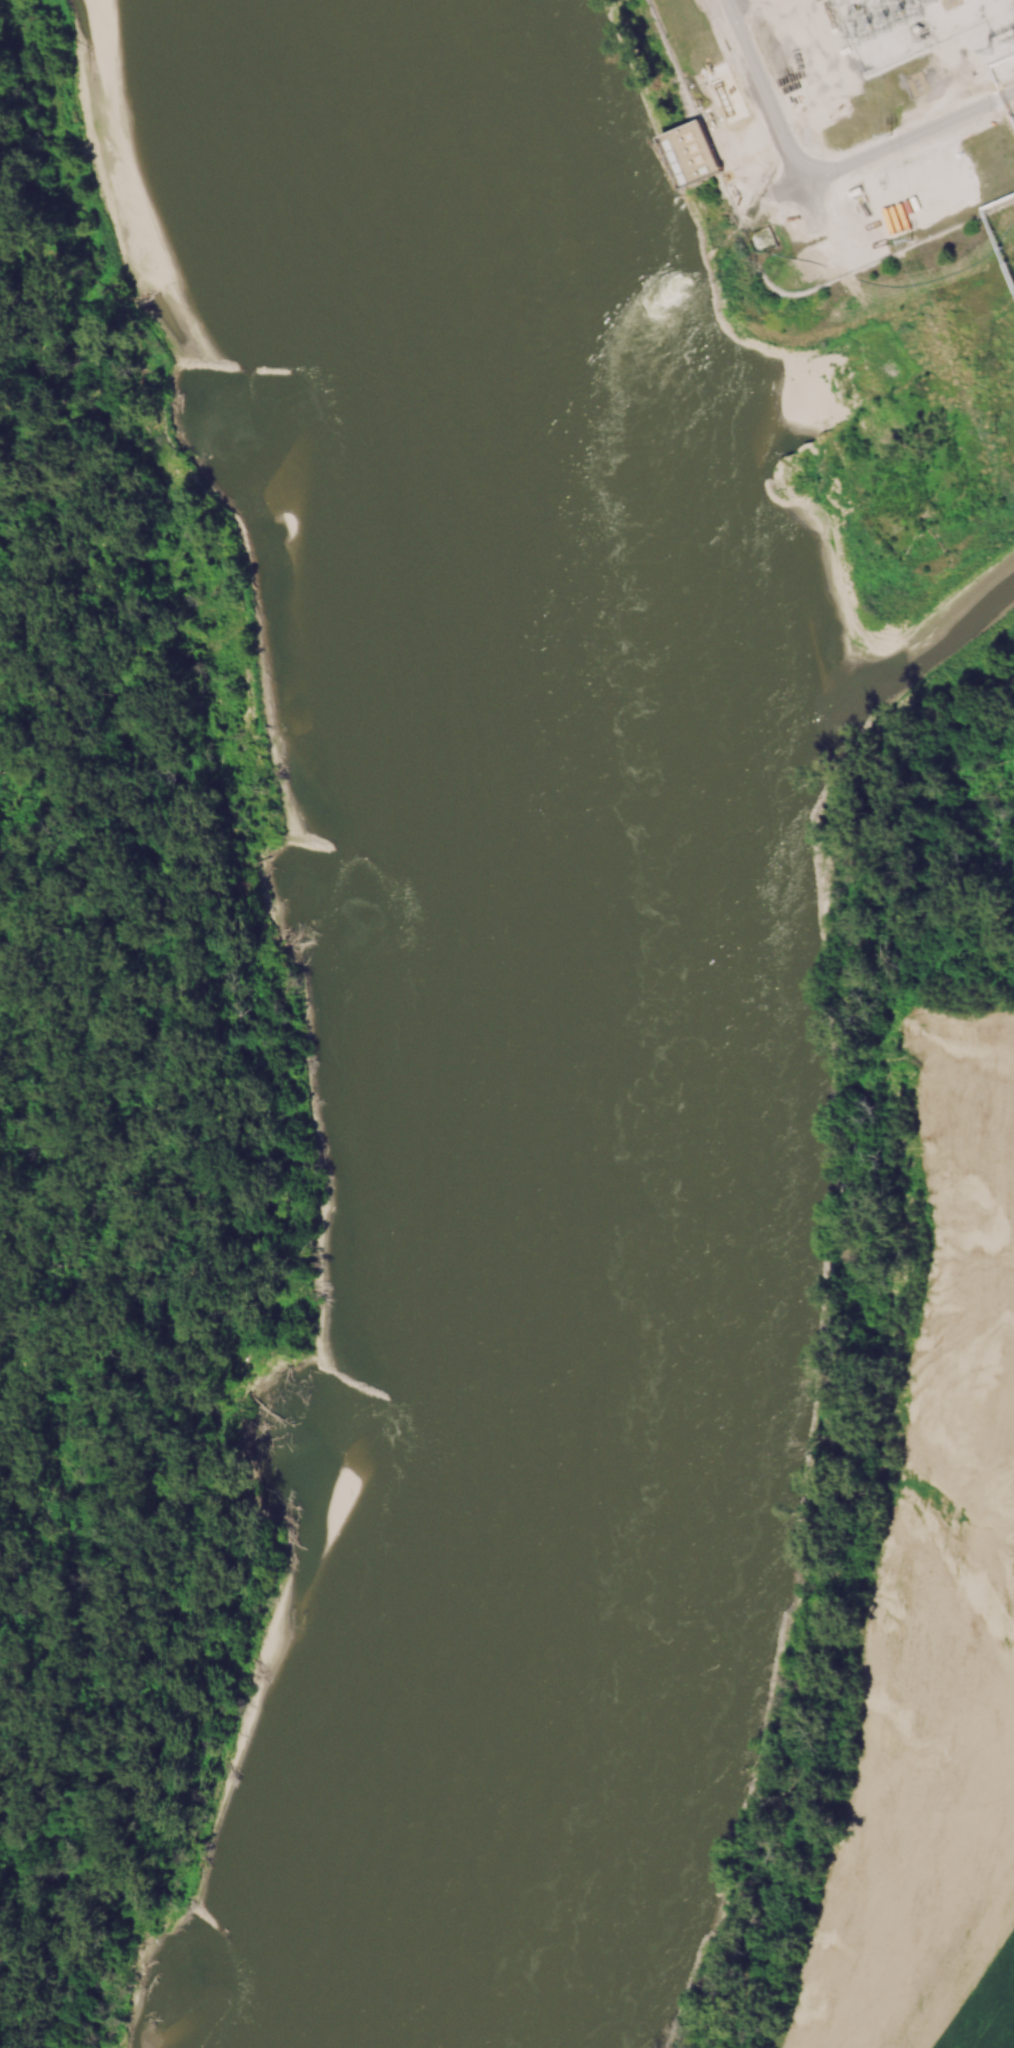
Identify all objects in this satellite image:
power substation: (912, 26)
power tower: (1010, 44)
road: (766, 92)
power tower: (890, 134)
road: (895, 143)
building: (692, 151)
power plant: (876, 218)
power tower: (913, 241)
power tower: (995, 433)
river: (927, 605)
river: (605, 1020)

